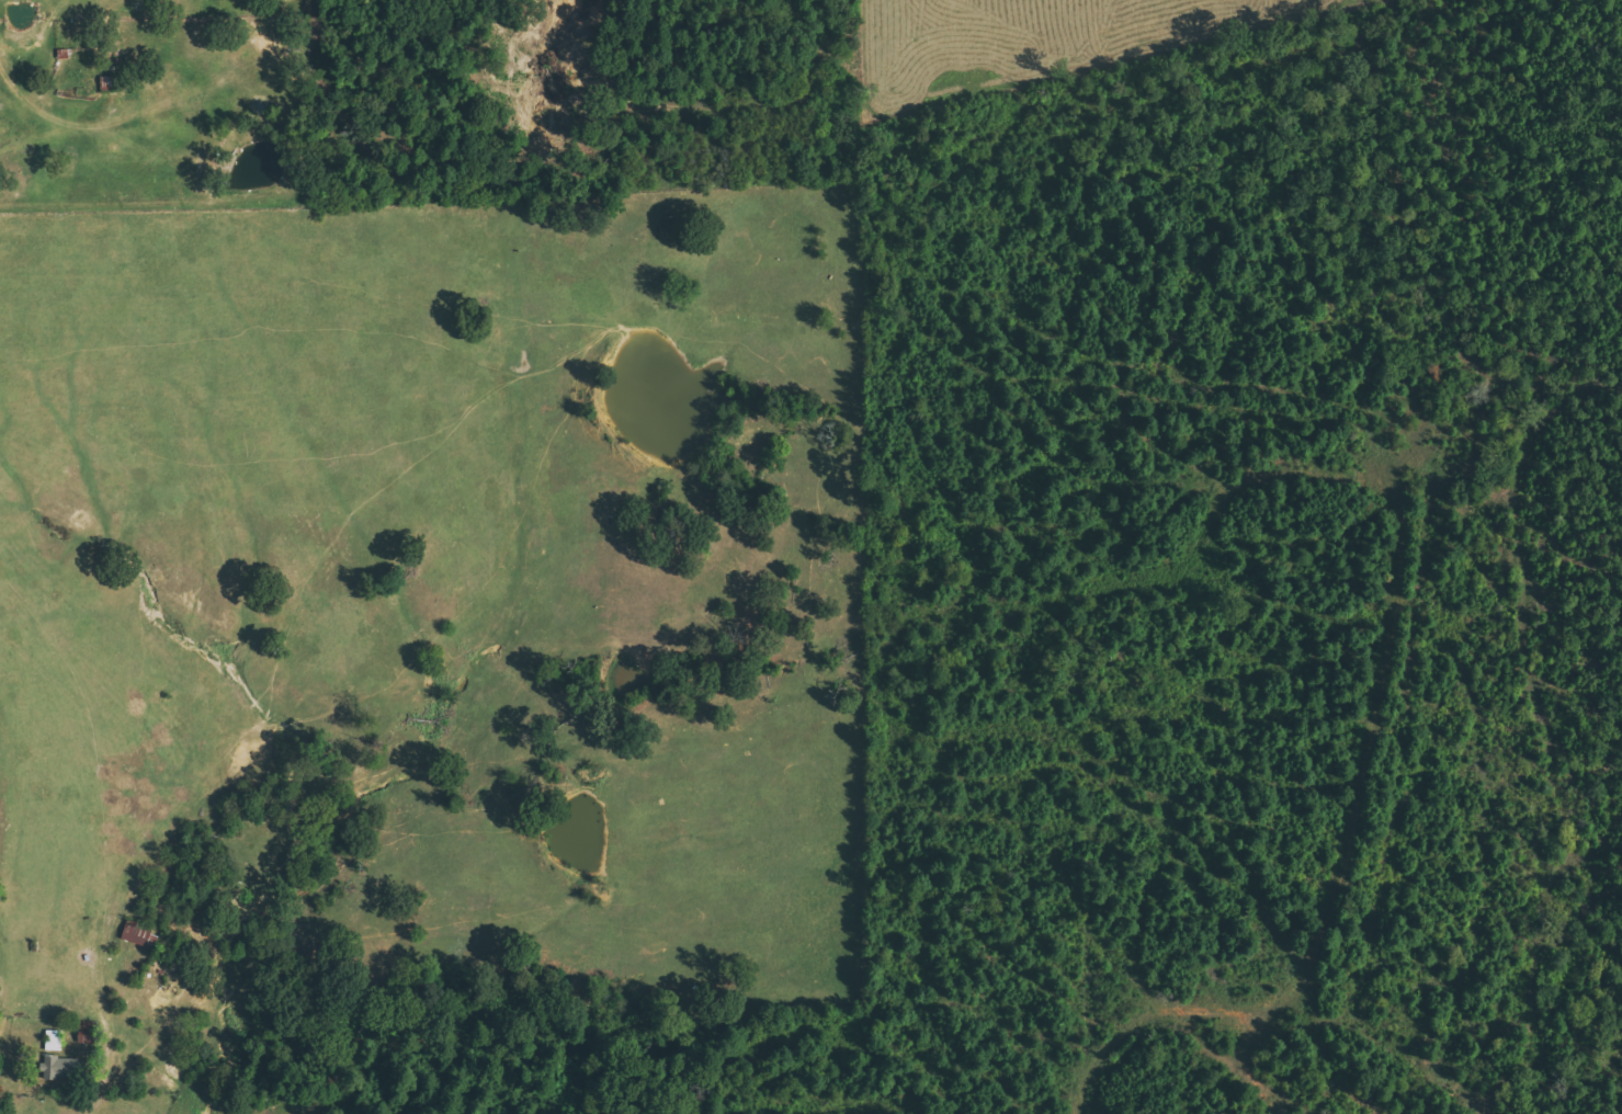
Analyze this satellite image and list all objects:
building: (140, 934)
building: (88, 1033)
building: (55, 1041)
building: (63, 1068)

